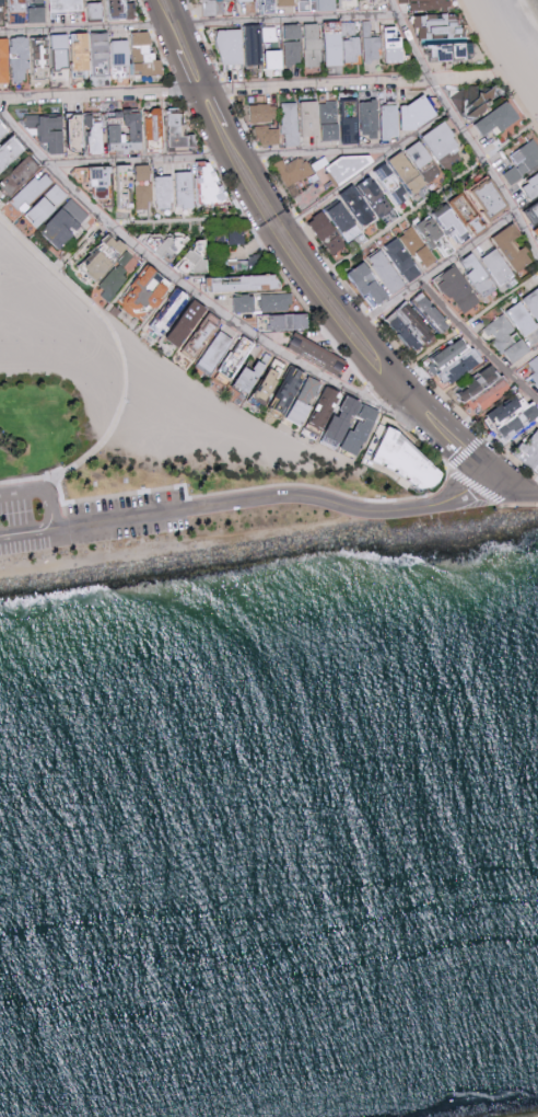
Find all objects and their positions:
building: (246, 0)
building: (261, 1)
building: (2, 3)
building: (67, 5)
building: (318, 5)
building: (213, 7)
building: (124, 10)
building: (98, 11)
road: (292, 21)
road: (163, 25)
road: (82, 31)
building: (431, 37)
building: (259, 43)
building: (371, 43)
building: (342, 44)
road: (195, 45)
building: (314, 45)
building: (396, 46)
building: (232, 47)
building: (289, 48)
building: (82, 53)
building: (145, 56)
building: (112, 57)
building: (60, 58)
building: (14, 60)
road: (498, 65)
road: (184, 70)
road: (250, 88)
road: (224, 107)
building: (482, 107)
building: (418, 113)
building: (264, 114)
building: (341, 120)
building: (391, 122)
building: (290, 124)
building: (155, 127)
road: (461, 129)
building: (4, 131)
building: (50, 131)
building: (128, 131)
building: (180, 133)
building: (268, 136)
building: (95, 137)
building: (442, 141)
road: (324, 152)
building: (11, 154)
building: (420, 156)
building: (521, 160)
road: (136, 162)
building: (353, 168)
building: (299, 169)
road: (370, 170)
building: (409, 173)
building: (212, 184)
building: (528, 184)
building: (395, 185)
building: (185, 189)
building: (32, 192)
building: (166, 193)
building: (478, 197)
road: (429, 200)
building: (367, 201)
building: (47, 206)
building: (343, 219)
building: (66, 223)
road: (149, 223)
building: (329, 234)
building: (420, 243)
building: (505, 247)
road: (311, 261)
building: (112, 267)
building: (495, 267)
building: (386, 270)
road: (440, 272)
building: (471, 275)
building: (248, 285)
building: (370, 286)
road: (186, 288)
building: (452, 289)
building: (148, 292)
building: (277, 302)
building: (529, 302)
building: (245, 304)
road: (320, 309)
building: (423, 312)
building: (173, 313)
building: (290, 323)
building: (189, 324)
building: (401, 326)
building: (505, 332)
park: (67, 342)
park: (30, 343)
road: (118, 343)
road: (478, 345)
building: (218, 350)
building: (319, 355)
road: (428, 355)
building: (237, 359)
building: (447, 361)
road: (523, 365)
building: (533, 368)
building: (252, 378)
building: (273, 381)
park: (96, 384)
building: (483, 393)
building: (297, 395)
building: (325, 410)
building: (505, 415)
building: (354, 424)
park: (46, 426)
road: (458, 430)
building: (331, 441)
road: (507, 447)
building: (527, 452)
building: (410, 458)
road: (30, 479)
road: (521, 486)
road: (25, 490)
road: (282, 496)
road: (52, 506)
parking lot: (90, 522)
road: (27, 532)

